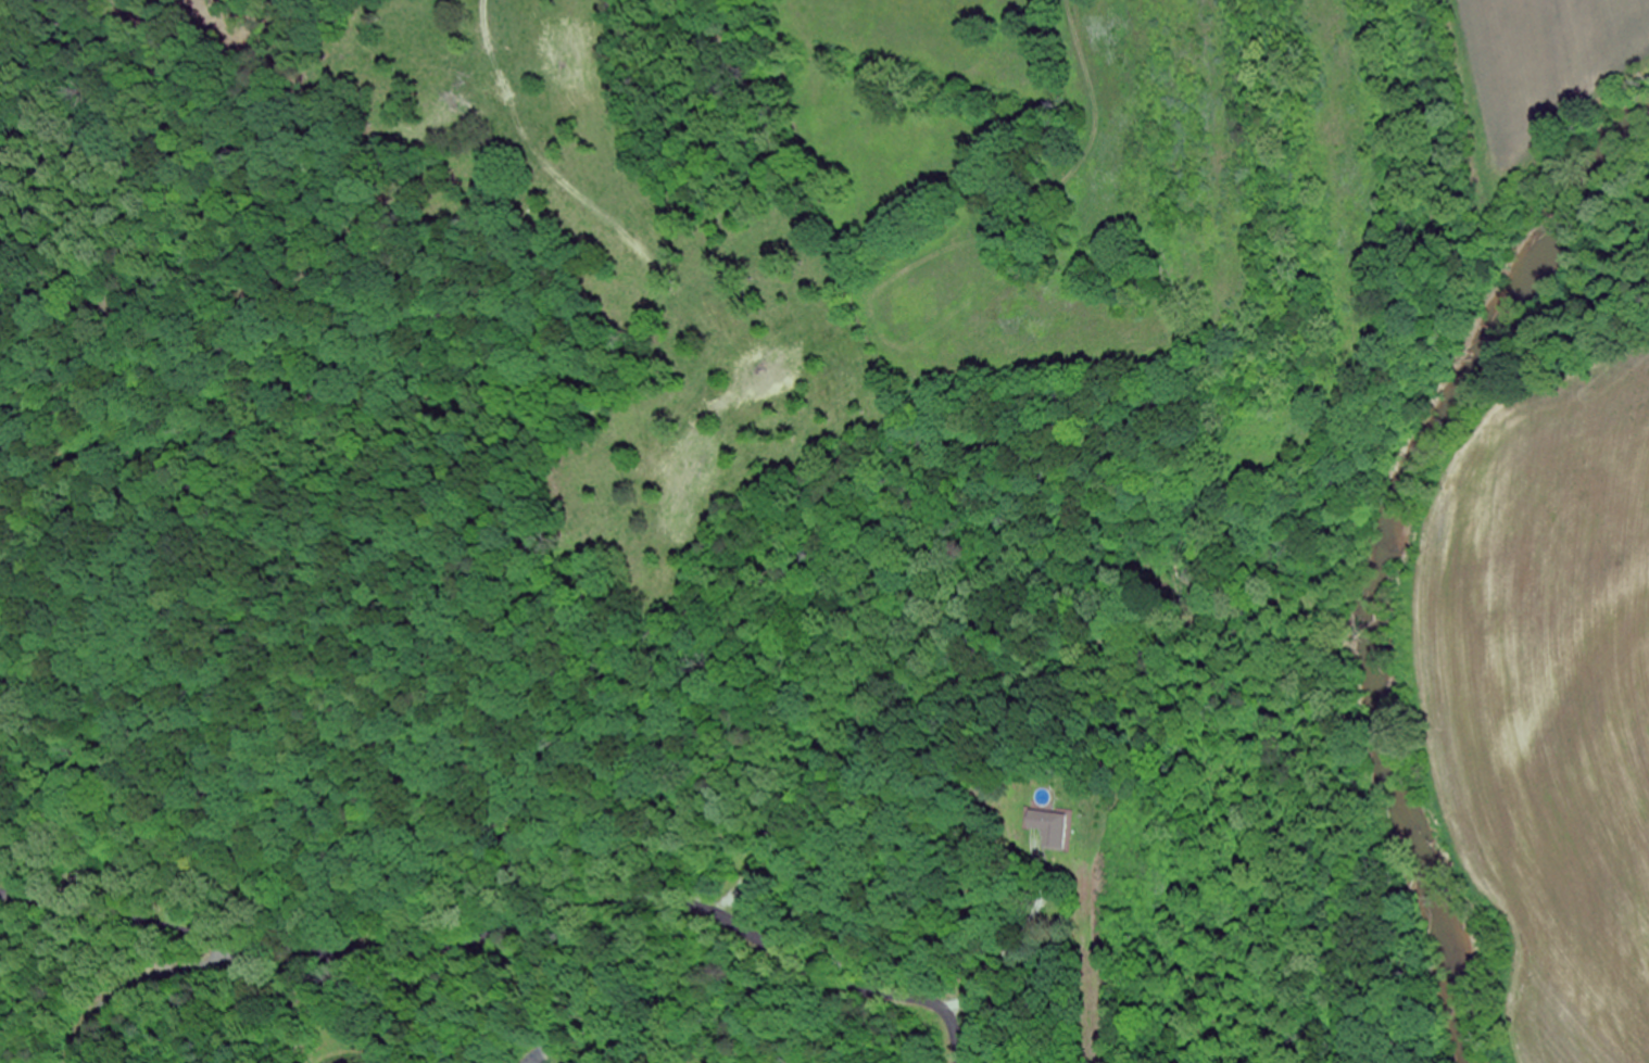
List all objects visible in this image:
road: (506, 929)

